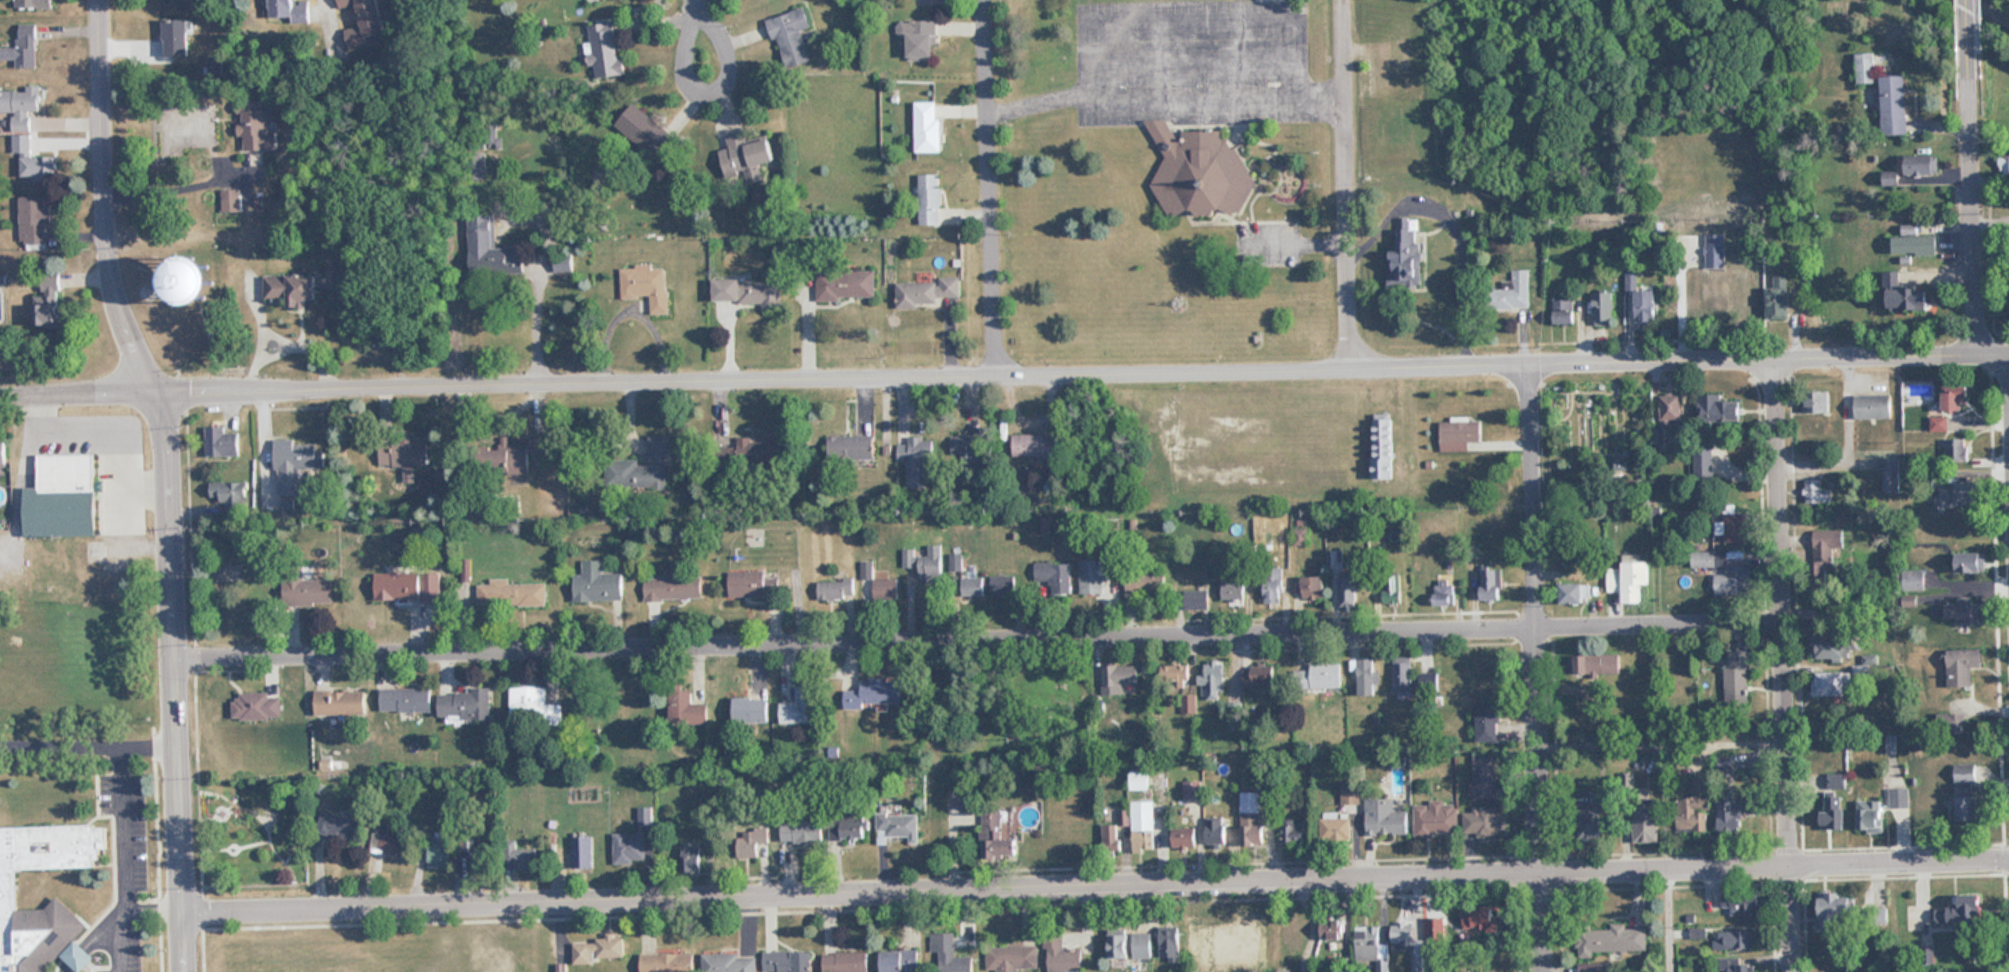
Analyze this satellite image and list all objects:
building: (194, 0)
building: (34, 4)
road: (692, 4)
railway: (2000, 4)
building: (282, 8)
building: (368, 15)
road: (1969, 25)
building: (176, 37)
building: (791, 37)
building: (920, 38)
building: (23, 47)
building: (605, 50)
building: (1402, 53)
building: (1866, 67)
road: (686, 83)
road: (1165, 90)
building: (21, 105)
building: (1894, 105)
building: (928, 126)
building: (256, 128)
building: (644, 130)
building: (747, 157)
building: (33, 160)
building: (1921, 164)
building: (1196, 171)
road: (1345, 177)
road: (991, 181)
road: (174, 191)
road: (106, 194)
road: (1974, 195)
building: (929, 199)
building: (232, 201)
building: (34, 220)
building: (1914, 244)
building: (492, 252)
building: (1407, 255)
building: (1718, 274)
building: (198, 280)
water tower: (188, 281)
building: (845, 284)
building: (646, 286)
building: (292, 288)
building: (747, 291)
building: (926, 291)
building: (1512, 292)
building: (1911, 298)
building: (1779, 299)
building: (1643, 301)
building: (50, 303)
building: (1603, 309)
building: (1564, 312)
road: (536, 318)
road: (1004, 362)
road: (2005, 374)
building: (1959, 400)
building: (1718, 409)
building: (1671, 410)
building: (1940, 423)
building: (1459, 435)
building: (221, 442)
building: (1037, 445)
building: (1382, 445)
building: (851, 446)
building: (968, 447)
building: (758, 448)
building: (1959, 449)
building: (3, 453)
building: (511, 455)
building: (403, 456)
building: (916, 460)
building: (1703, 462)
building: (294, 465)
building: (642, 468)
building: (1889, 475)
building: (1816, 492)
building: (1961, 492)
building: (230, 495)
building: (63, 496)
building: (1735, 527)
building: (1300, 536)
building: (1828, 541)
building: (1971, 561)
building: (929, 565)
building: (1723, 572)
building: (1096, 573)
building: (1054, 576)
building: (1630, 580)
building: (1145, 581)
building: (750, 584)
building: (1273, 584)
building: (1492, 584)
building: (598, 585)
building: (675, 585)
building: (1002, 585)
building: (407, 586)
building: (972, 587)
building: (1314, 587)
building: (1234, 588)
building: (1392, 588)
building: (836, 589)
building: (885, 589)
building: (1347, 590)
building: (307, 591)
building: (1444, 591)
building: (1576, 593)
building: (512, 594)
building: (1197, 597)
building: (1966, 612)
road: (981, 642)
building: (1830, 645)
building: (1677, 652)
road: (1785, 658)
road: (1538, 661)
building: (1598, 664)
building: (1963, 666)
building: (1178, 673)
building: (1403, 674)
building: (1484, 674)
road: (178, 675)
building: (1321, 675)
building: (1259, 676)
building: (1119, 677)
building: (1368, 677)
building: (1737, 678)
building: (1214, 680)
building: (1829, 683)
building: (876, 693)
building: (406, 700)
building: (340, 703)
building: (464, 704)
building: (256, 707)
building: (534, 707)
building: (802, 707)
building: (687, 708)
building: (751, 710)
building: (1488, 722)
building: (1955, 723)
road: (59, 744)
road: (1663, 748)
building: (1972, 773)
building: (1483, 777)
building: (1140, 779)
building: (1836, 782)
building: (1191, 788)
building: (1350, 794)
building: (1899, 798)
building: (1971, 808)
building: (1834, 812)
building: (1694, 814)
building: (1743, 816)
building: (1870, 816)
building: (1384, 817)
building: (646, 818)
building: (1251, 818)
building: (1435, 818)
building: (1483, 820)
building: (1647, 820)
building: (1143, 825)
building: (1591, 825)
building: (898, 826)
building: (1337, 826)
building: (338, 827)
building: (849, 828)
road: (121, 829)
building: (801, 831)
building: (1216, 832)
building: (1295, 833)
building: (996, 837)
building: (1184, 837)
building: (1110, 840)
building: (751, 841)
building: (386, 844)
building: (629, 848)
building: (437, 853)
building: (581, 853)
building: (475, 854)
building: (517, 856)
building: (690, 860)
road: (1097, 889)
building: (8, 903)
building: (1742, 903)
building: (1840, 912)
building: (1480, 919)
building: (1966, 919)
road: (1666, 920)
building: (1333, 927)
building: (1296, 929)
building: (1404, 935)
road: (100, 938)
building: (1736, 939)
building: (1611, 940)
building: (1171, 942)
building: (1368, 943)
building: (1120, 945)
building: (1142, 945)
building: (600, 950)
building: (947, 954)
road: (76, 956)
building: (1063, 956)
building: (1012, 959)
building: (788, 961)
building: (901, 961)
building: (845, 962)
building: (667, 963)
building: (729, 963)
building: (1418, 964)
building: (1737, 965)
building: (1596, 967)
road: (69, 968)

